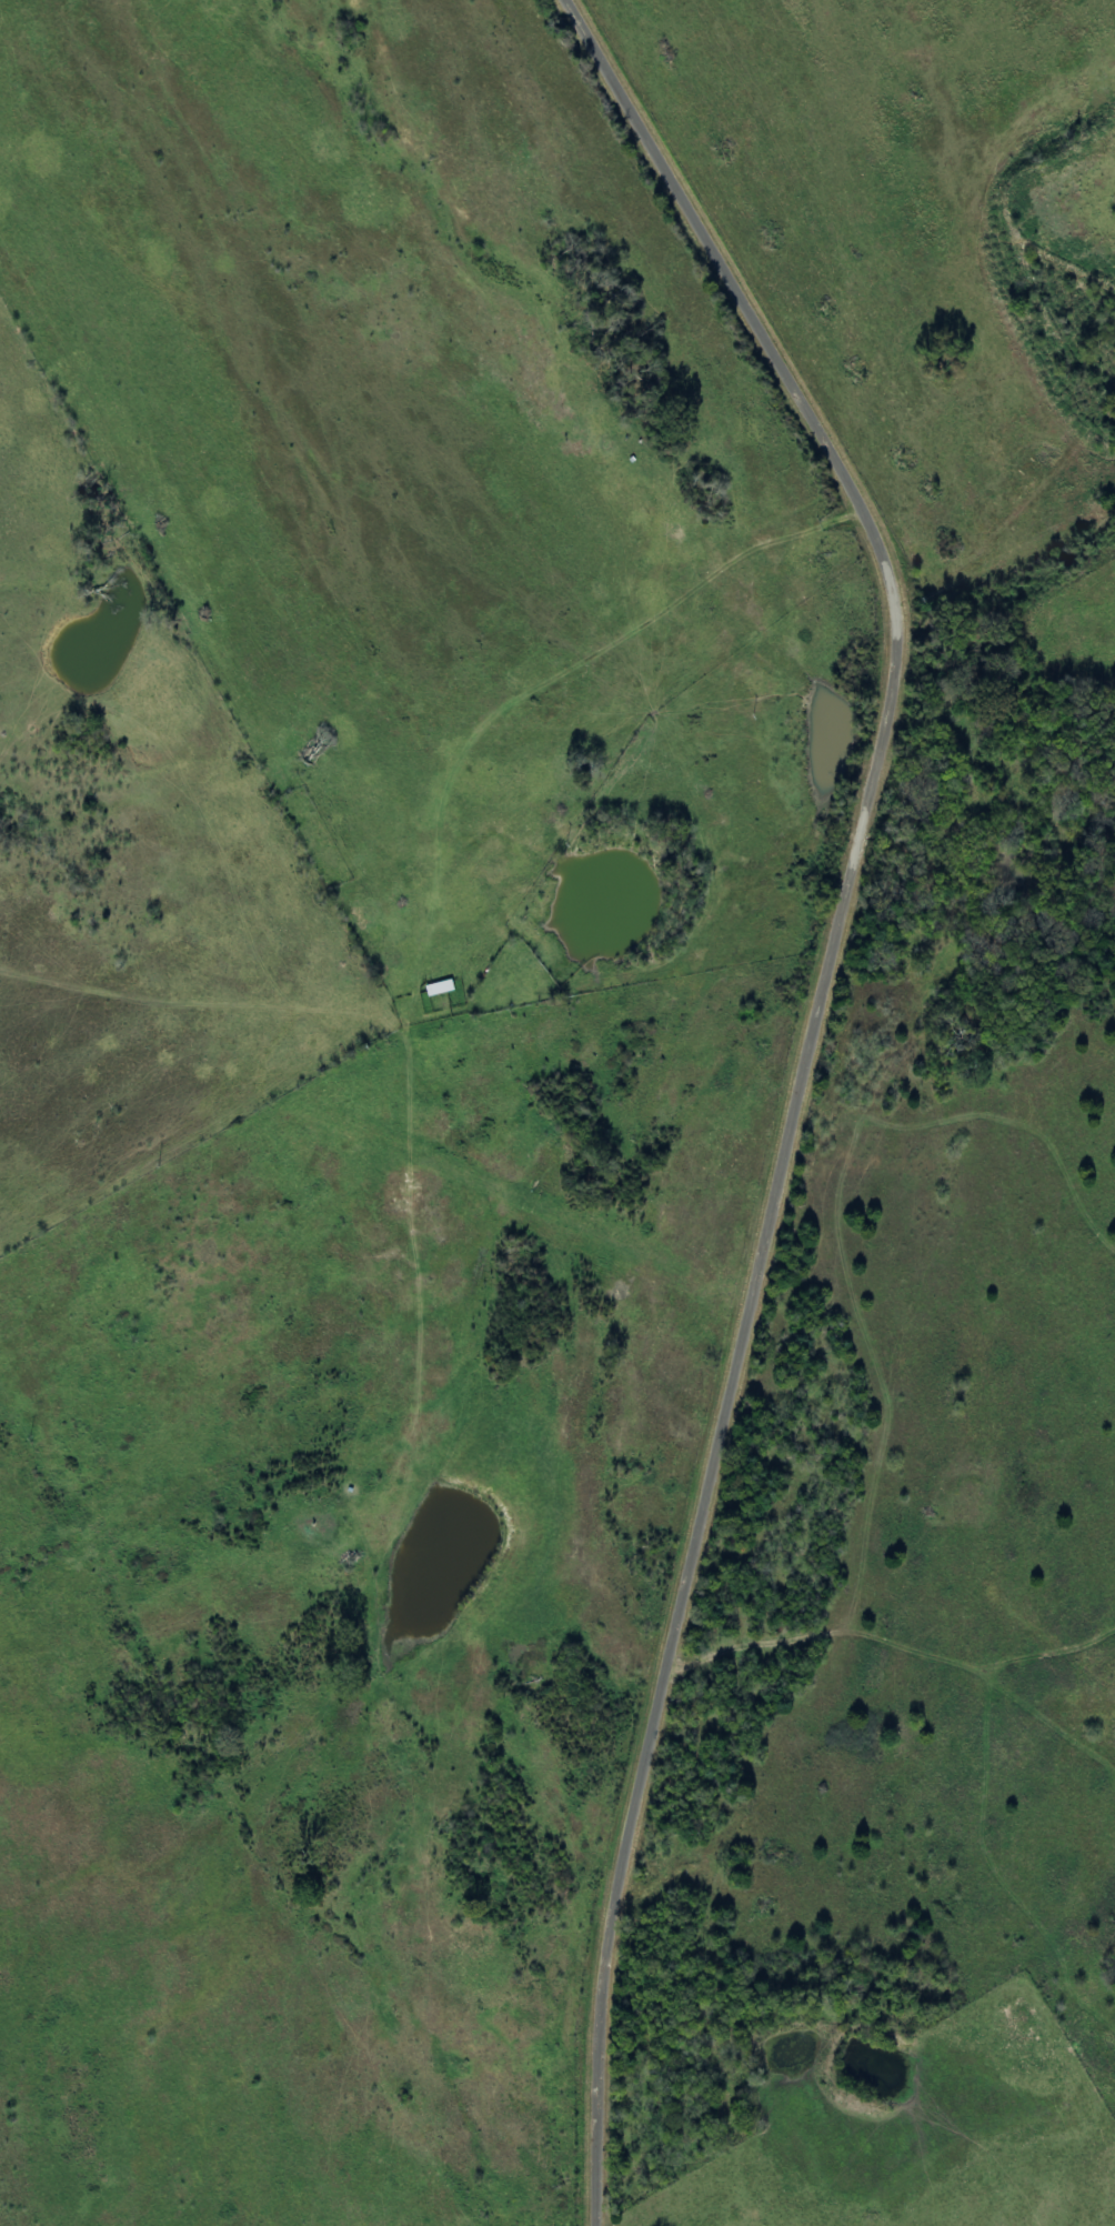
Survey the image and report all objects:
road: (807, 1074)

